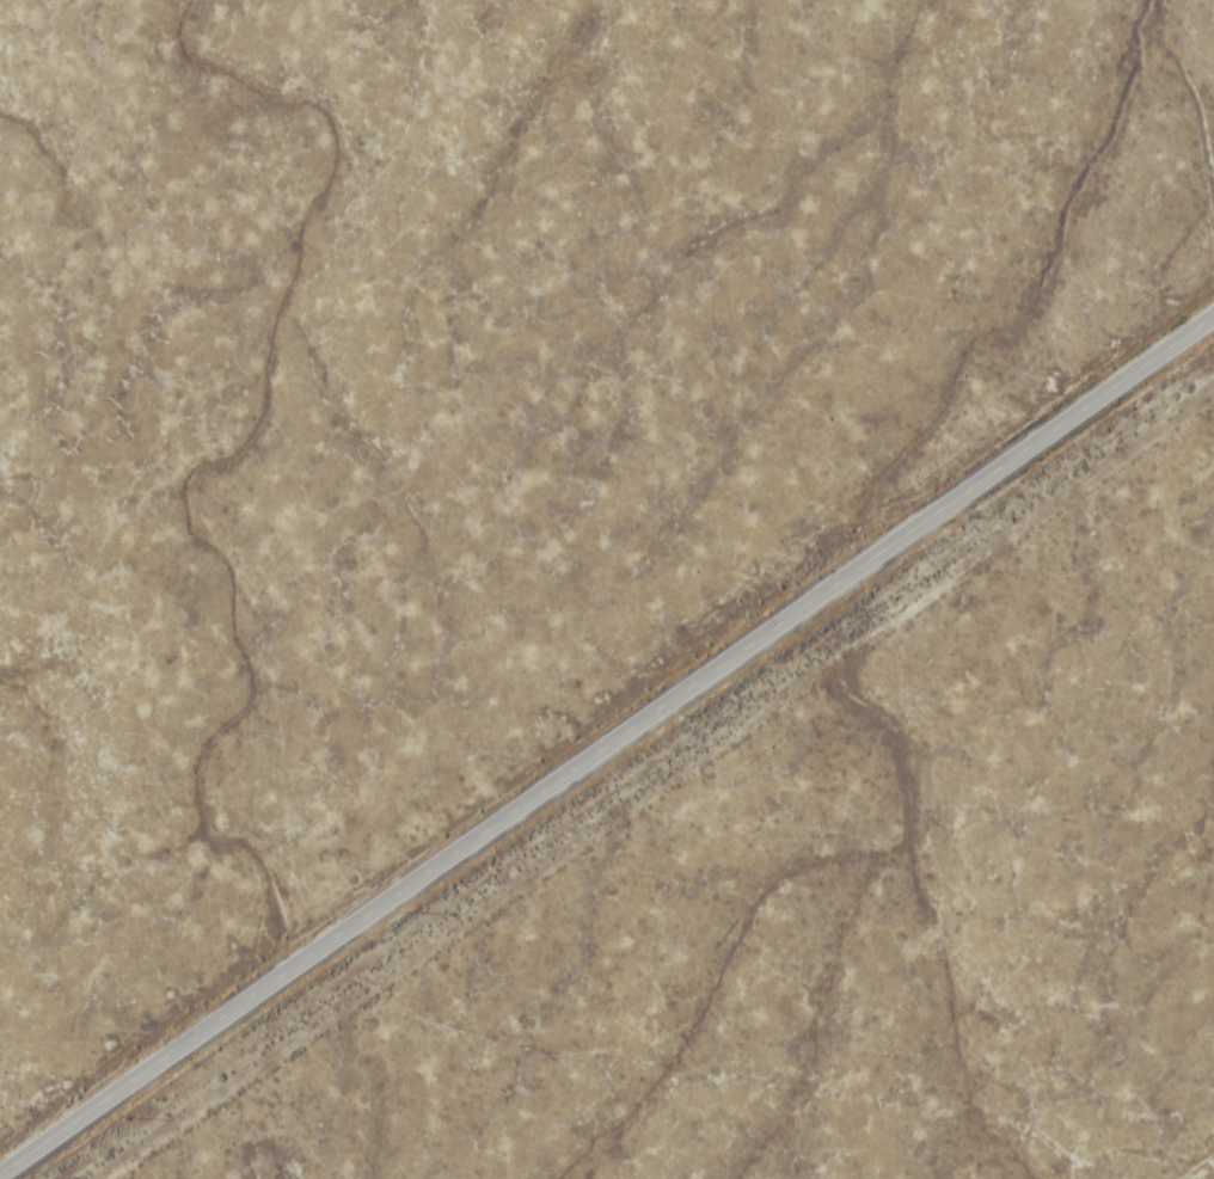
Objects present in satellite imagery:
road: (607, 745)
road: (1204, 1172)

